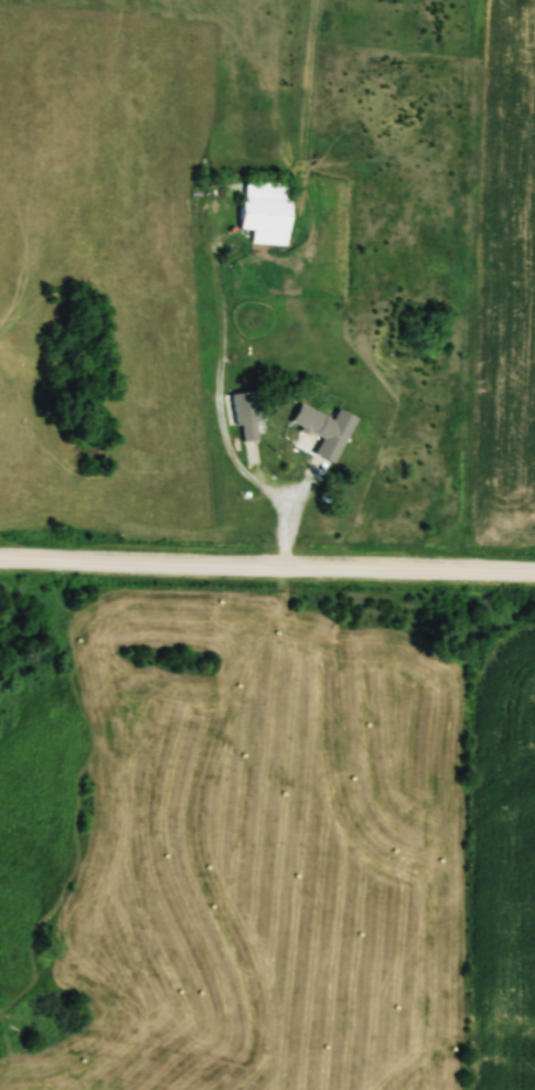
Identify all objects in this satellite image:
building: (266, 212)
road: (222, 364)
building: (247, 417)
building: (325, 430)
road: (293, 510)
road: (235, 564)
road: (503, 570)

